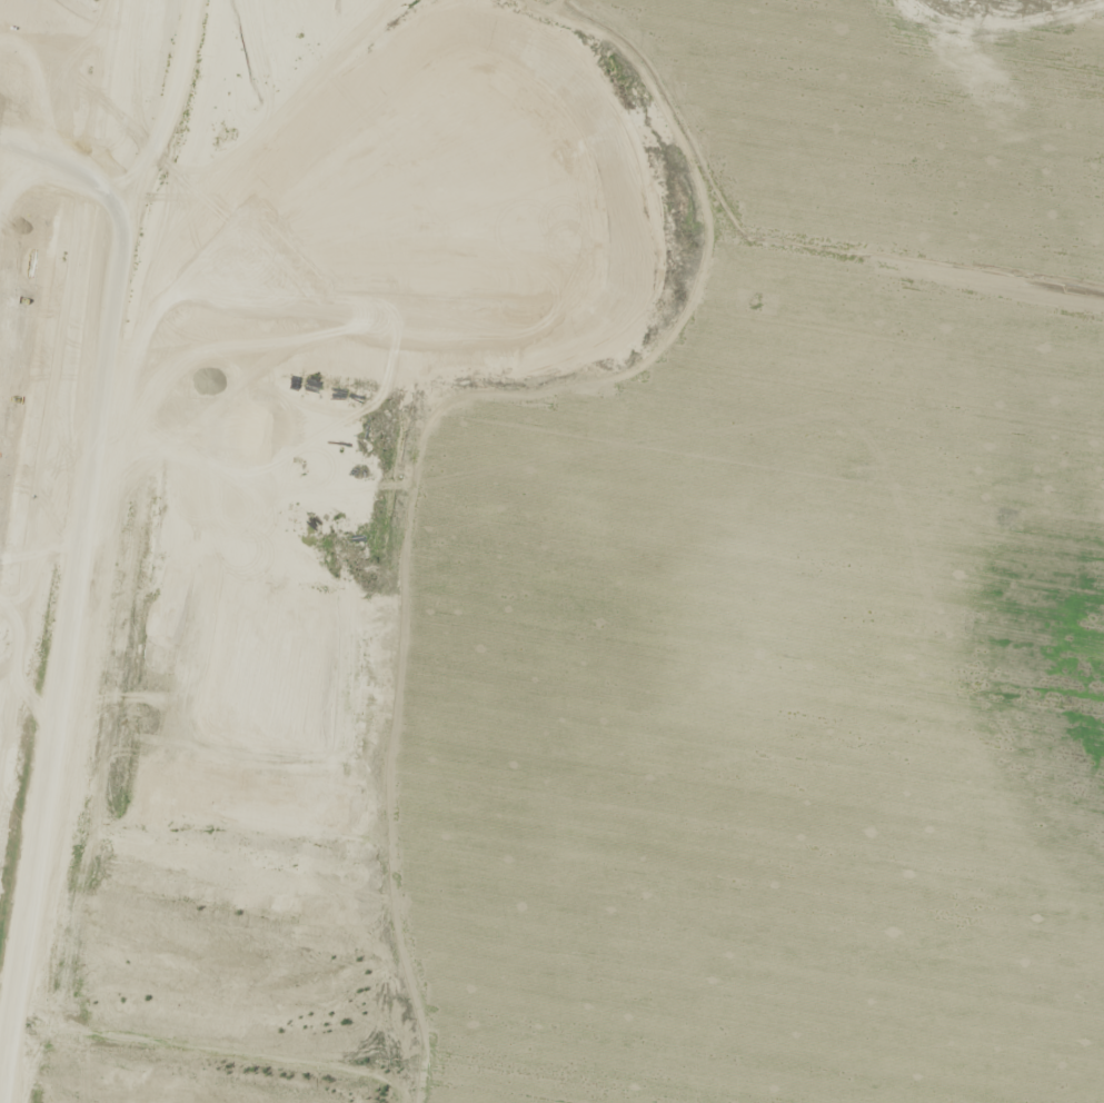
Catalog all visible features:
landfill: (551, 551)
road: (81, 556)

